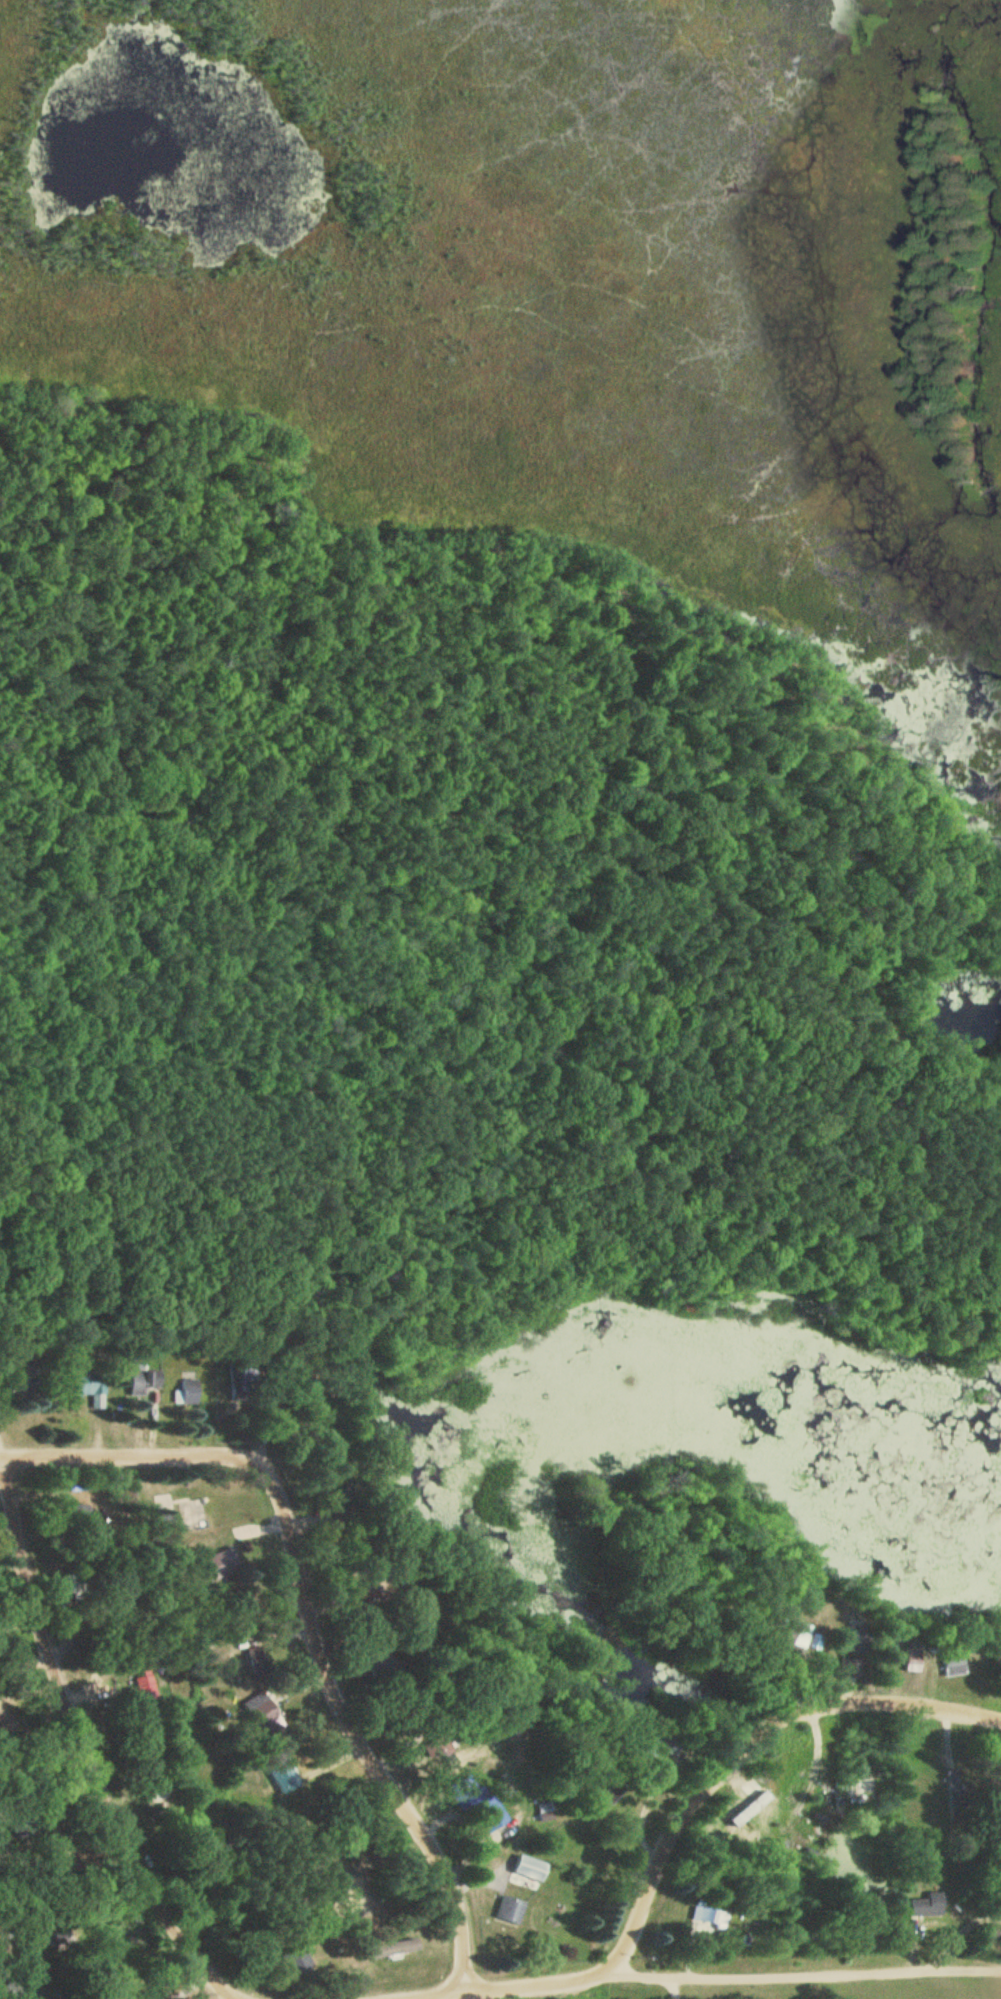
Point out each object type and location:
building: (91, 1383)
building: (139, 1384)
building: (190, 1391)
road: (3, 1451)
road: (72, 1457)
building: (790, 1632)
building: (849, 1640)
building: (257, 1658)
building: (944, 1661)
building: (906, 1662)
road: (333, 1677)
building: (260, 1709)
road: (85, 1746)
building: (284, 1775)
building: (758, 1805)
road: (680, 1825)
building: (532, 1867)
building: (922, 1904)
building: (511, 1907)
building: (712, 1915)
building: (394, 1948)
building: (297, 1959)
road: (806, 1974)

